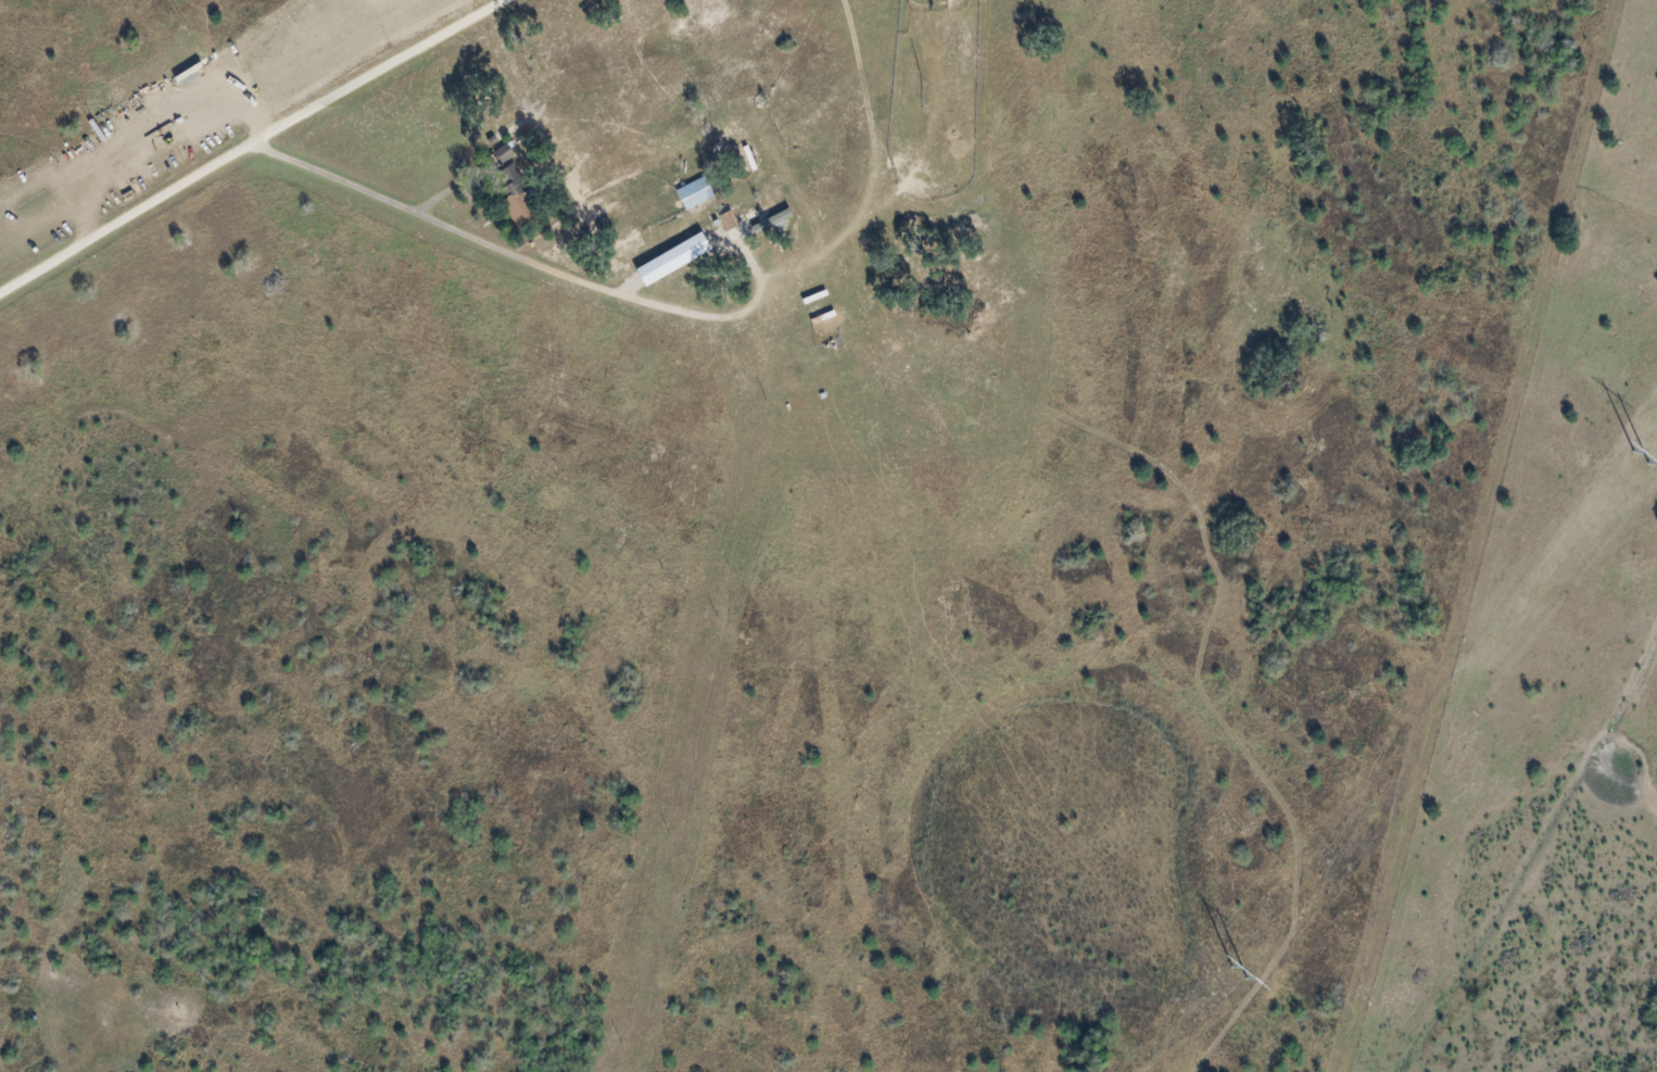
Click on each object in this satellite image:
building: (699, 126)
building: (496, 136)
road: (252, 148)
building: (507, 150)
building: (766, 150)
building: (752, 154)
building: (694, 187)
building: (523, 197)
building: (732, 218)
building: (770, 224)
building: (672, 261)
building: (818, 294)
power tower: (1648, 453)
power tower: (1248, 967)

